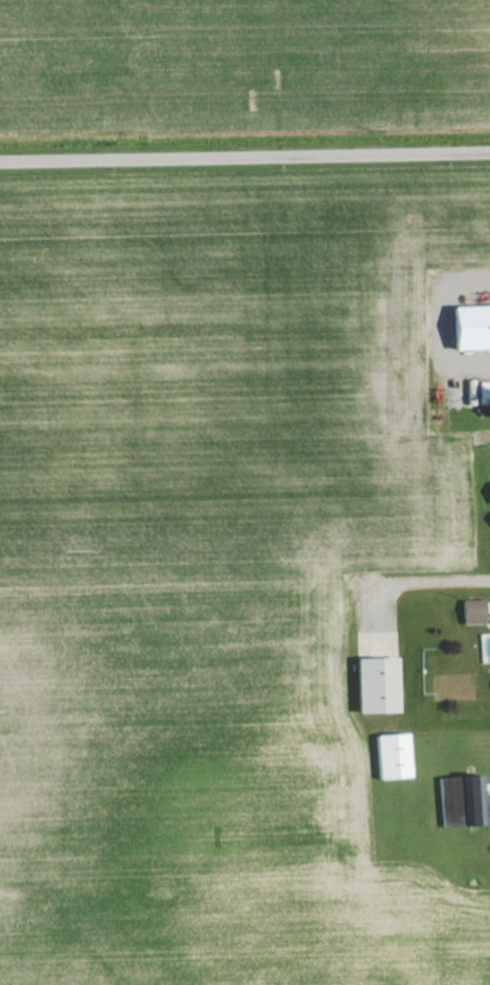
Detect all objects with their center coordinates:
road: (245, 150)
building: (465, 327)
building: (480, 386)
building: (486, 493)
road: (412, 583)
building: (466, 612)
building: (367, 685)
building: (487, 686)
building: (383, 757)
building: (455, 801)

